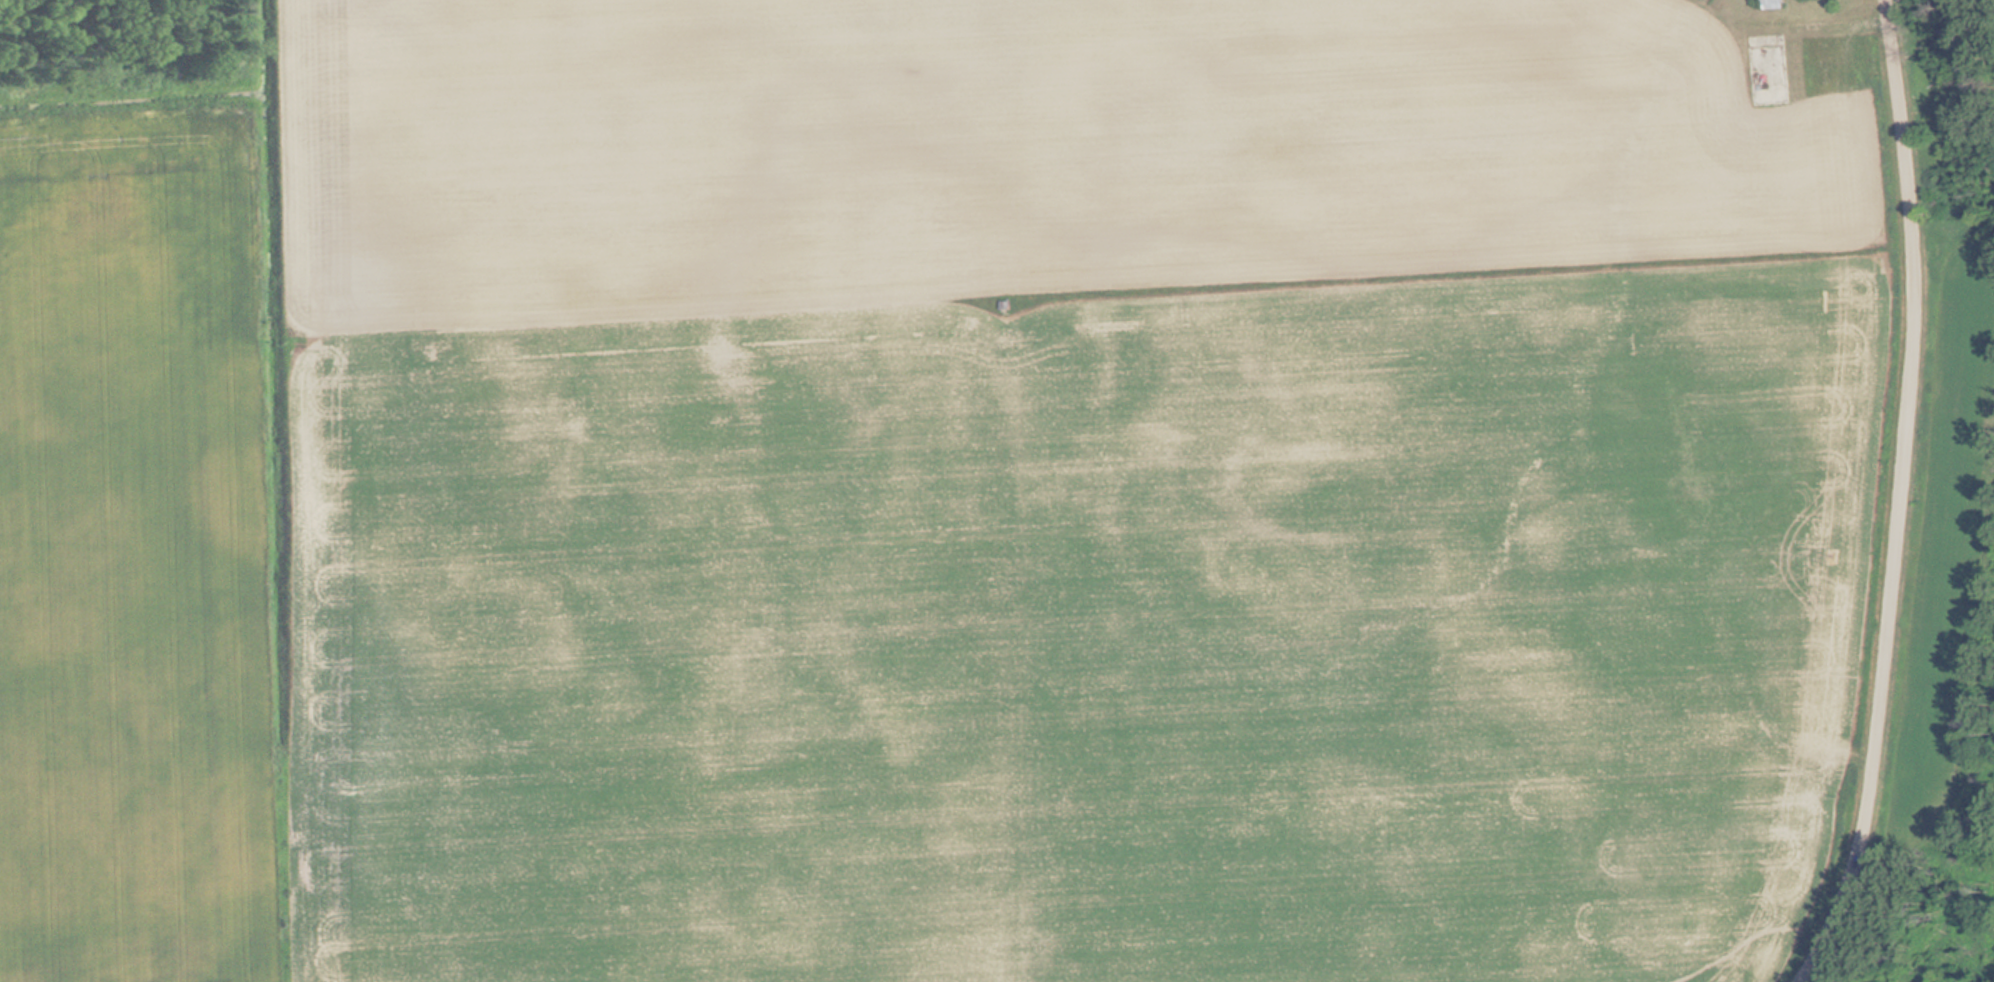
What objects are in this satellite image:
building: (1768, 4)
road: (1909, 496)

